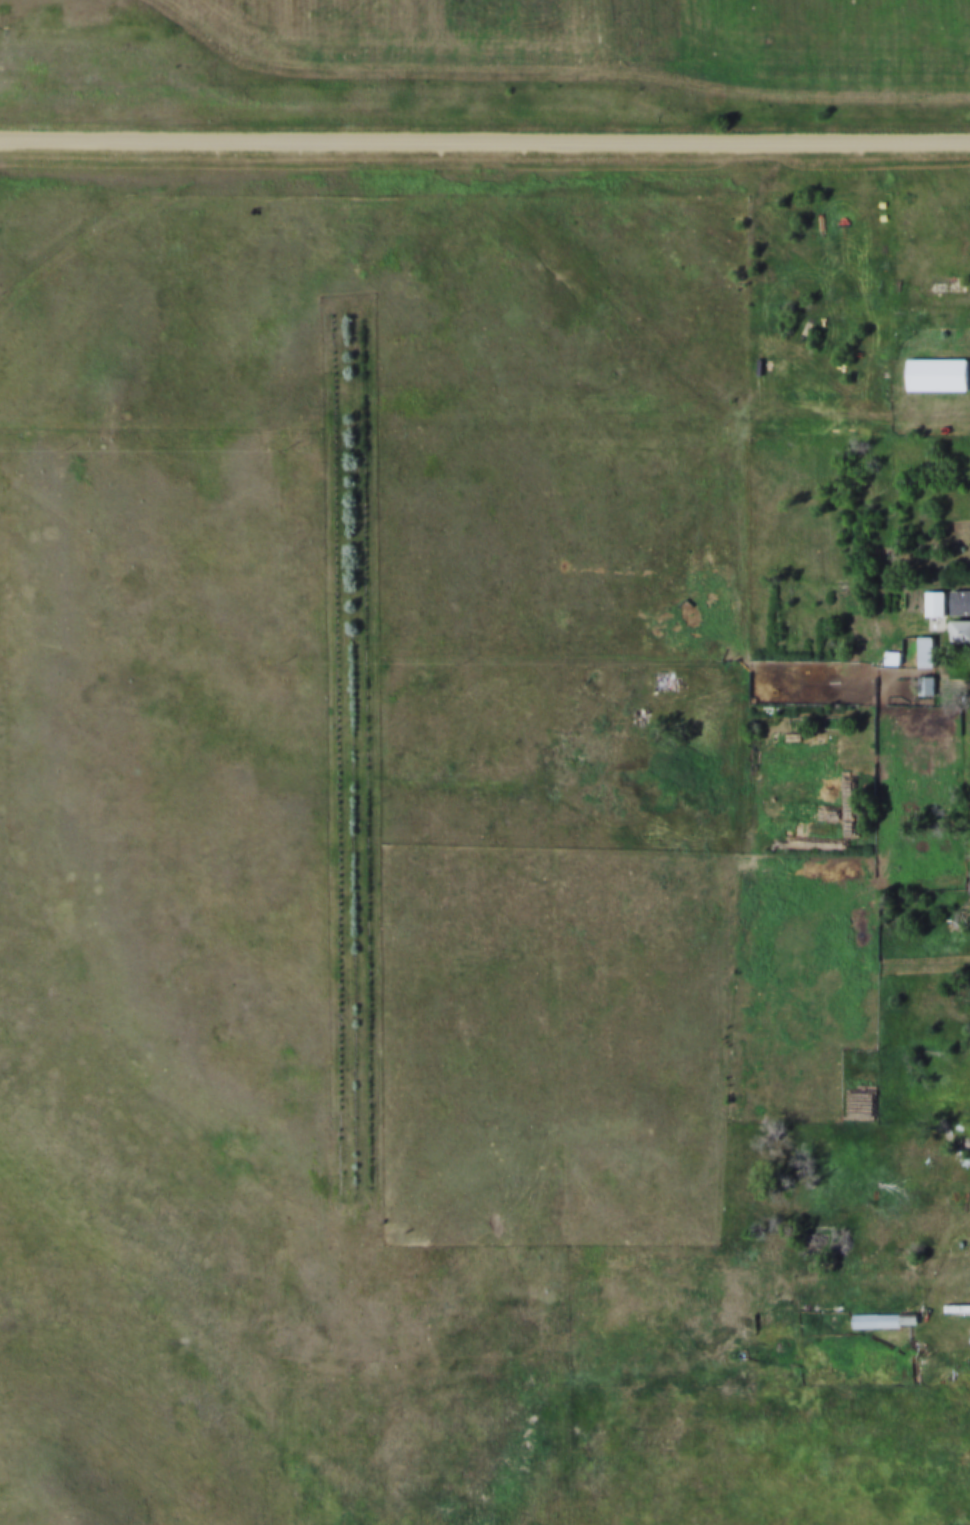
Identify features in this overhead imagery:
road: (484, 137)
building: (939, 371)
building: (961, 599)
building: (937, 600)
building: (961, 627)
building: (926, 648)
building: (893, 654)
building: (927, 682)
road: (766, 1286)
building: (958, 1304)
building: (885, 1316)

